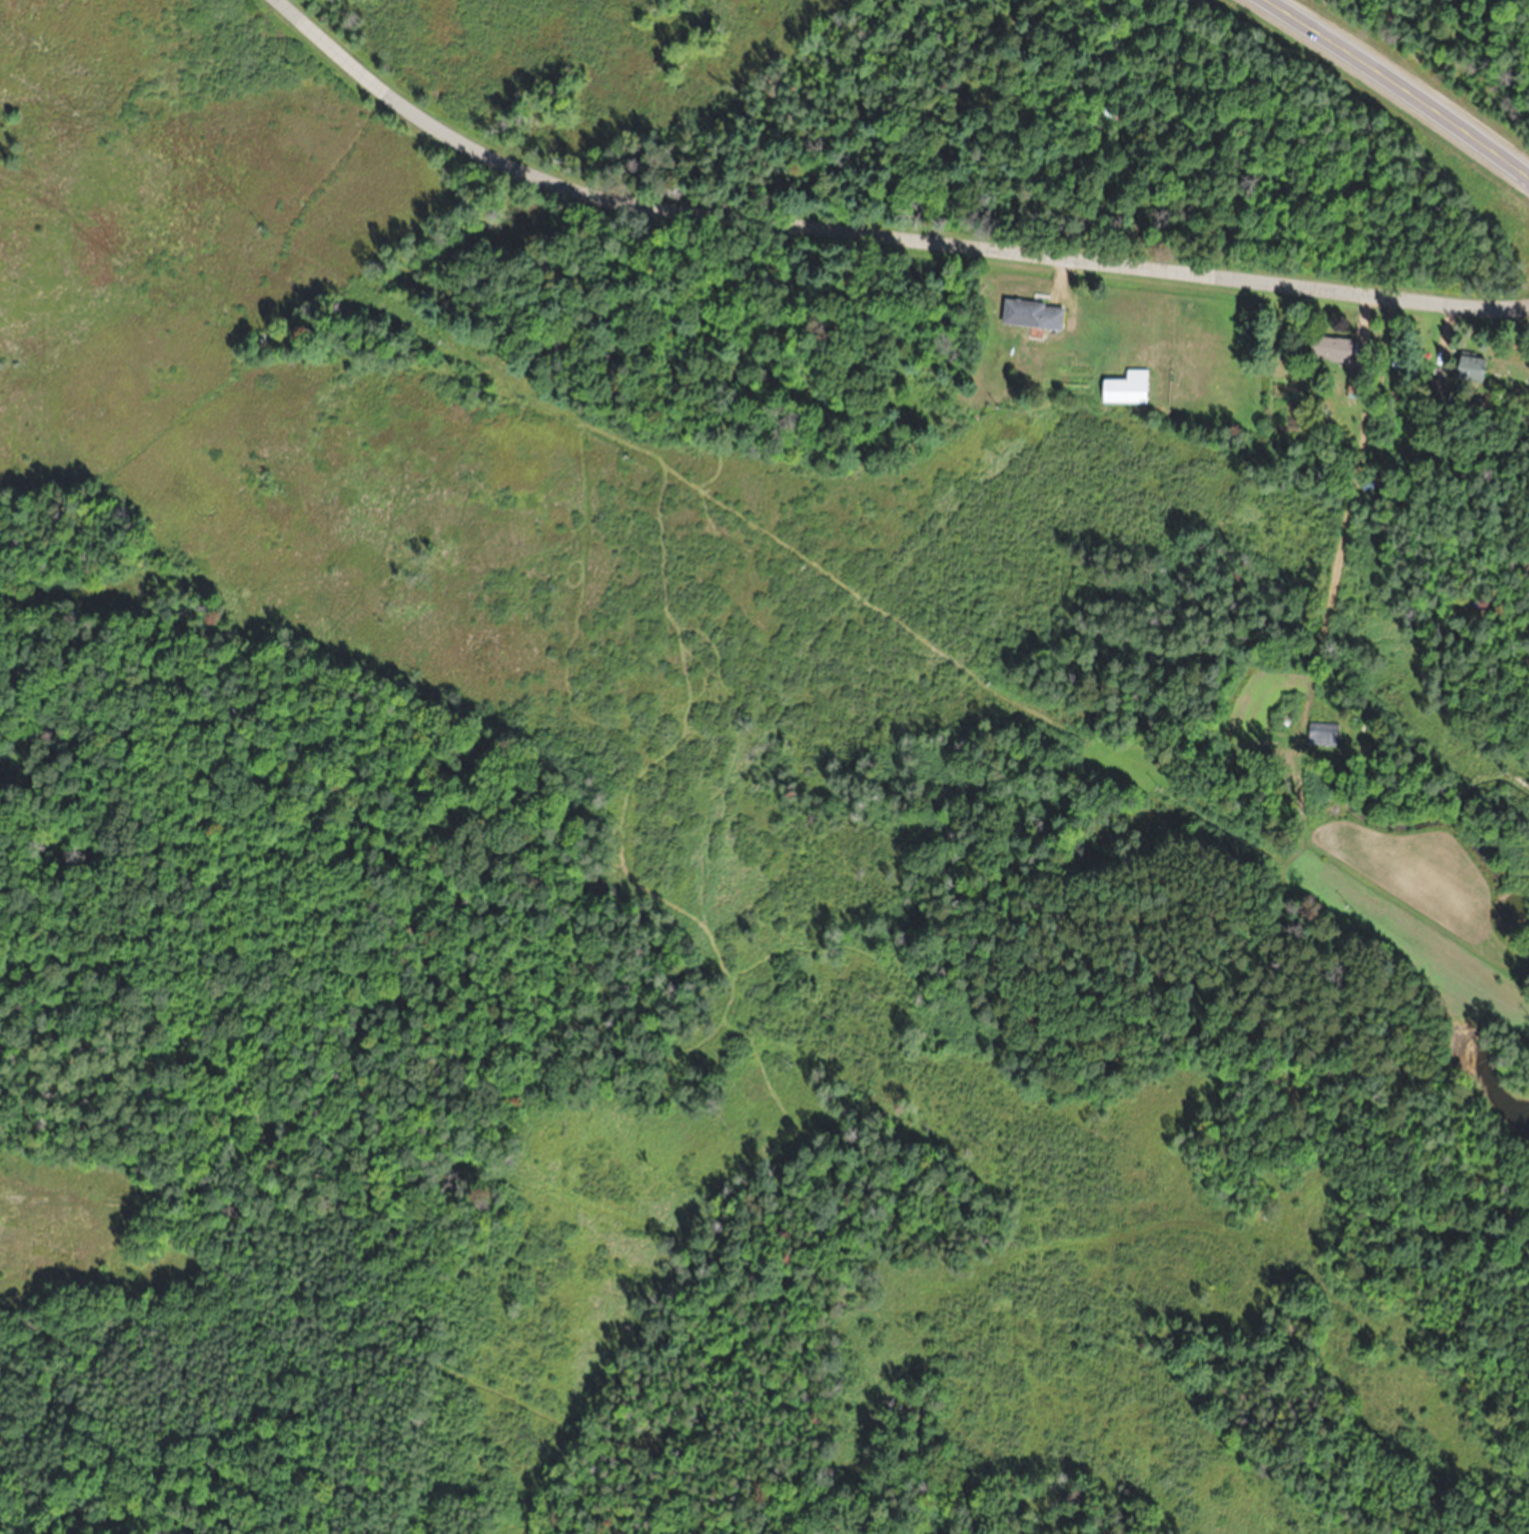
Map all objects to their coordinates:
road: (1395, 85)
building: (1108, 111)
road: (875, 234)
building: (1032, 314)
building: (1330, 348)
building: (1470, 367)
building: (1126, 387)
building: (1320, 734)

